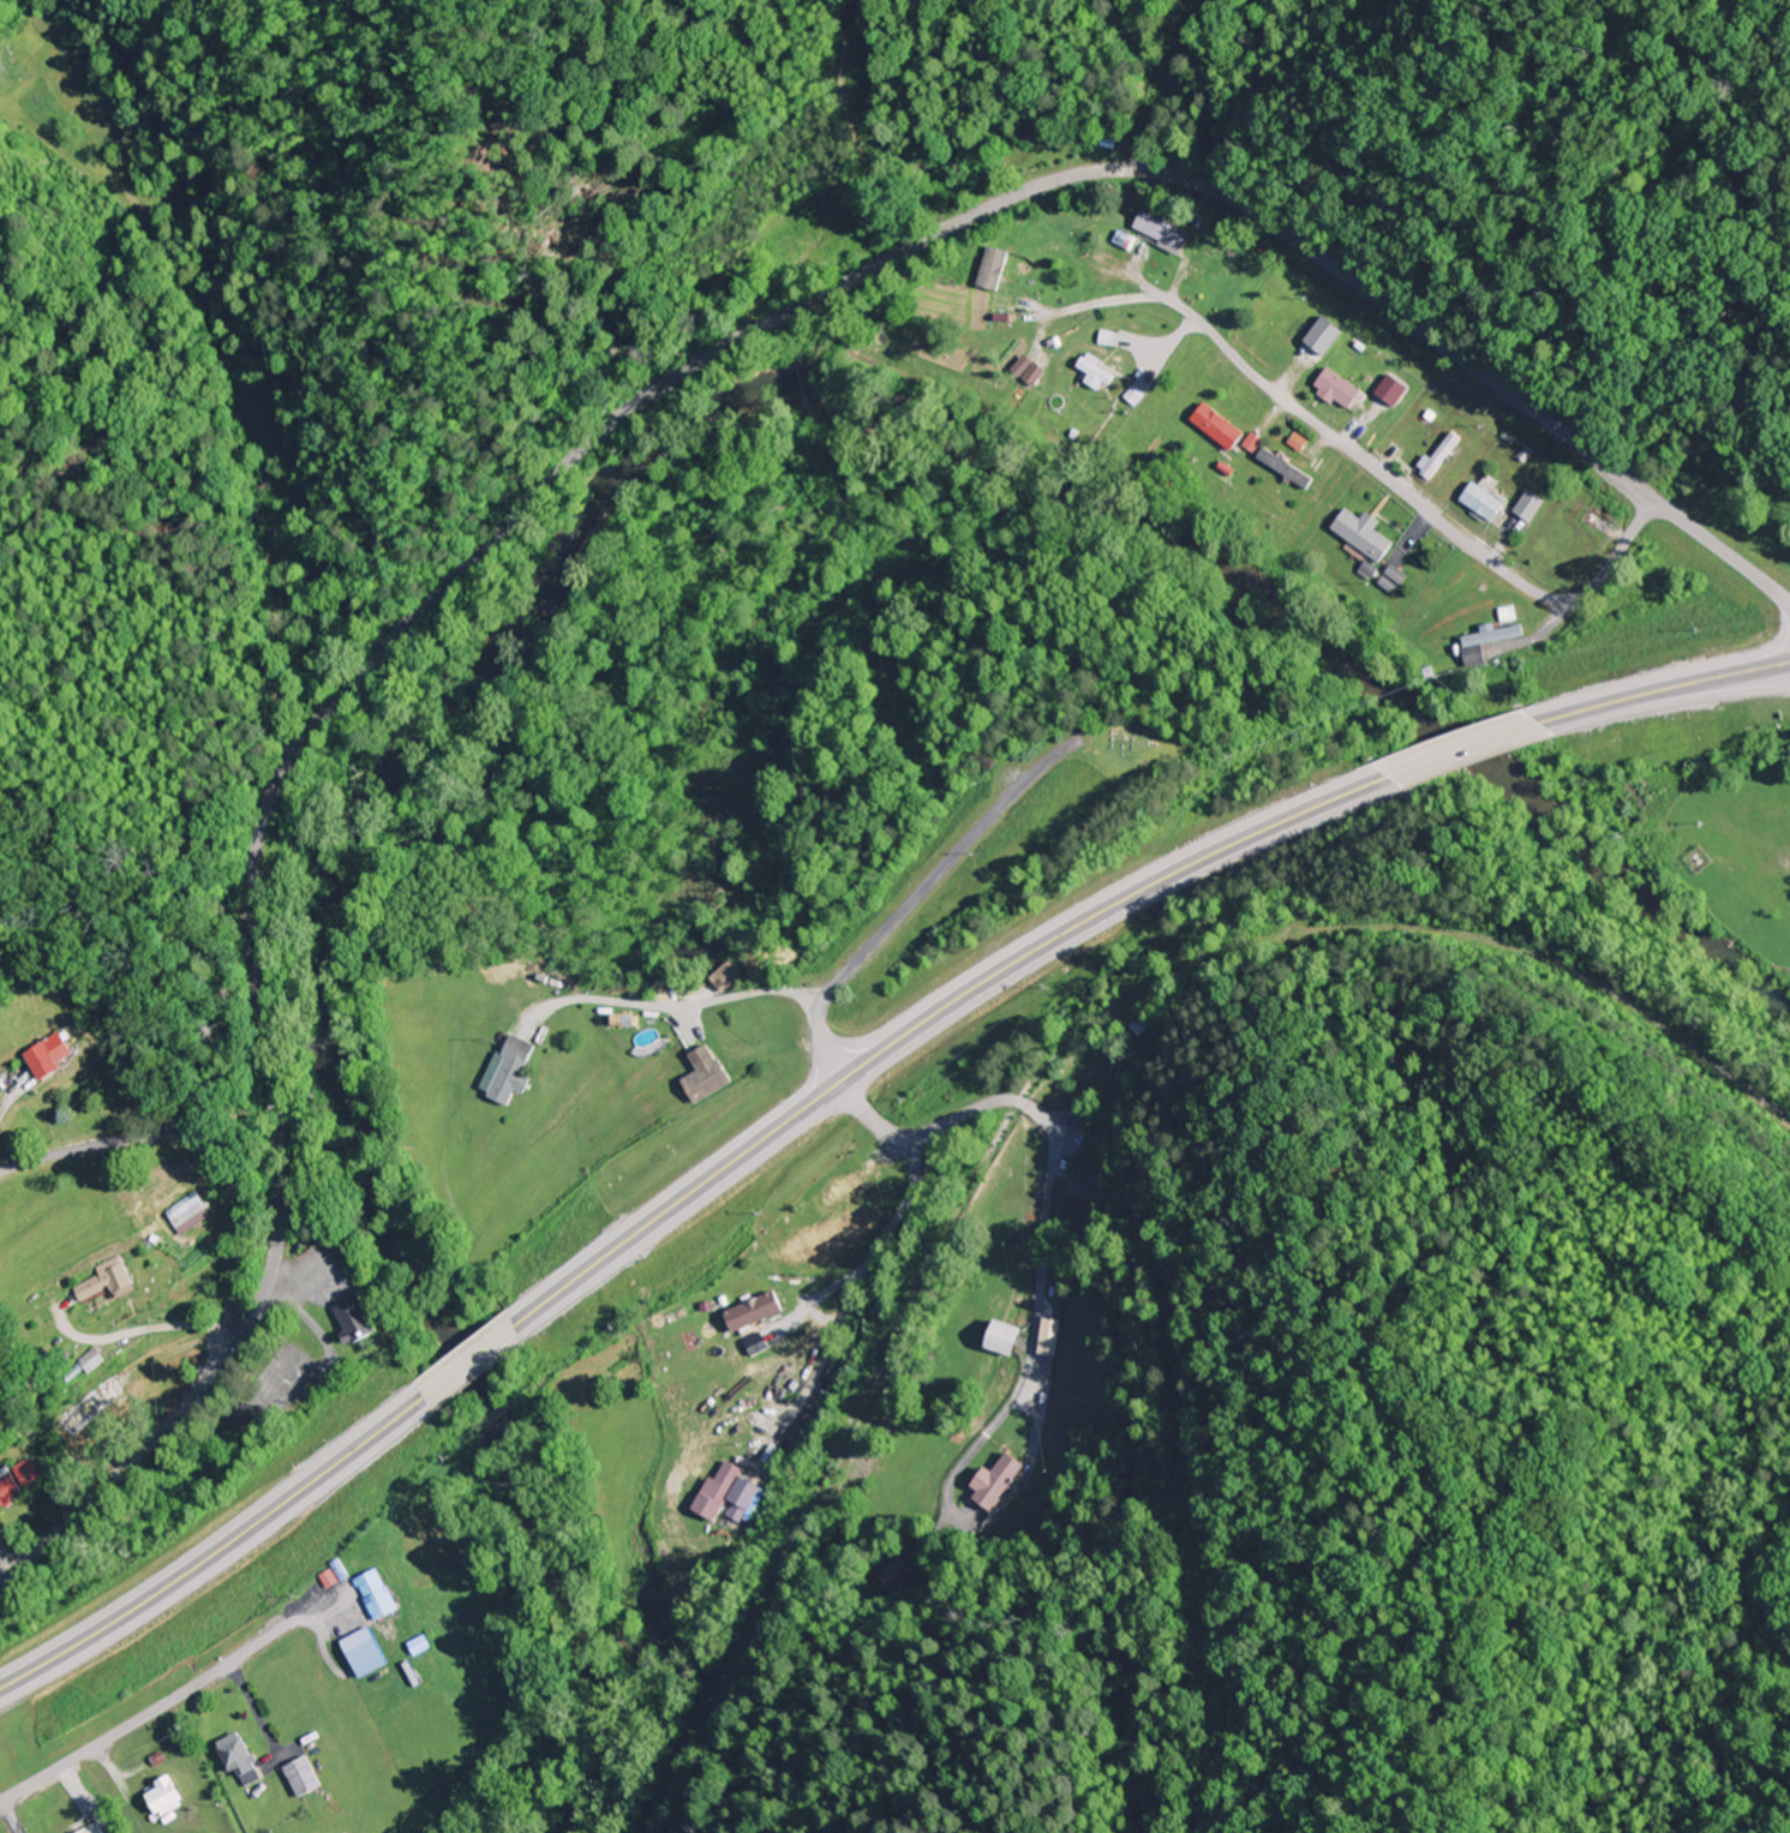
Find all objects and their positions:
road: (1168, 82)
building: (1160, 228)
building: (990, 266)
building: (1095, 370)
building: (1336, 387)
building: (1389, 388)
building: (1217, 425)
road: (606, 449)
road: (1351, 453)
building: (1438, 453)
building: (1285, 467)
building: (1223, 475)
building: (1481, 499)
building: (1528, 503)
river: (571, 528)
building: (1363, 532)
road: (1604, 571)
building: (1487, 639)
road: (1662, 693)
road: (1457, 751)
road: (916, 895)
building: (728, 975)
road: (680, 1001)
road: (927, 1019)
building: (48, 1055)
building: (510, 1068)
building: (707, 1072)
road: (217, 1162)
building: (1090, 1187)
building: (842, 1188)
building: (184, 1206)
road: (879, 1248)
building: (106, 1276)
building: (756, 1308)
building: (355, 1317)
building: (1005, 1335)
building: (89, 1358)
road: (468, 1362)
building: (78, 1412)
building: (998, 1480)
building: (7, 1486)
building: (719, 1490)
road: (216, 1551)
building: (373, 1592)
building: (363, 1651)
road: (142, 1714)
building: (237, 1756)
building: (300, 1774)
building: (155, 1798)
building: (88, 1828)

